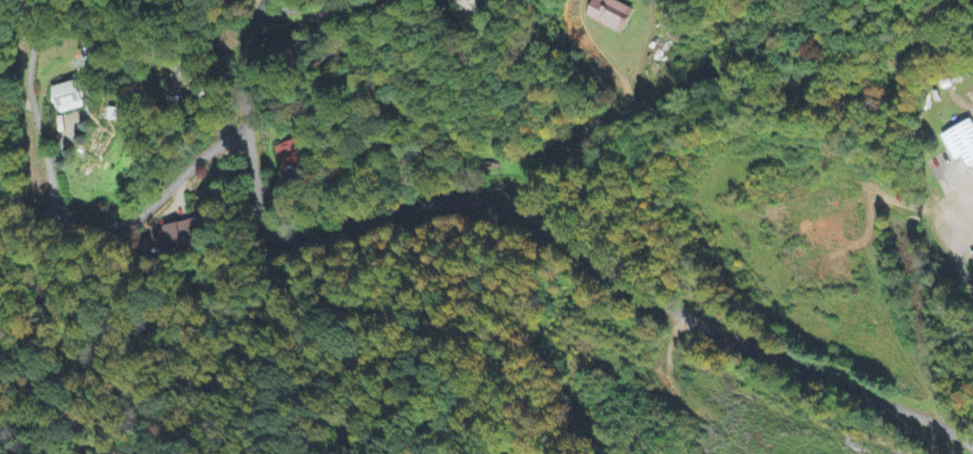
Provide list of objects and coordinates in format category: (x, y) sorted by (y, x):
building: (473, 6)
road: (270, 13)
building: (610, 15)
building: (73, 97)
building: (962, 144)
road: (572, 146)
building: (290, 157)
road: (483, 203)
road: (61, 215)
road: (670, 343)
road: (870, 398)

